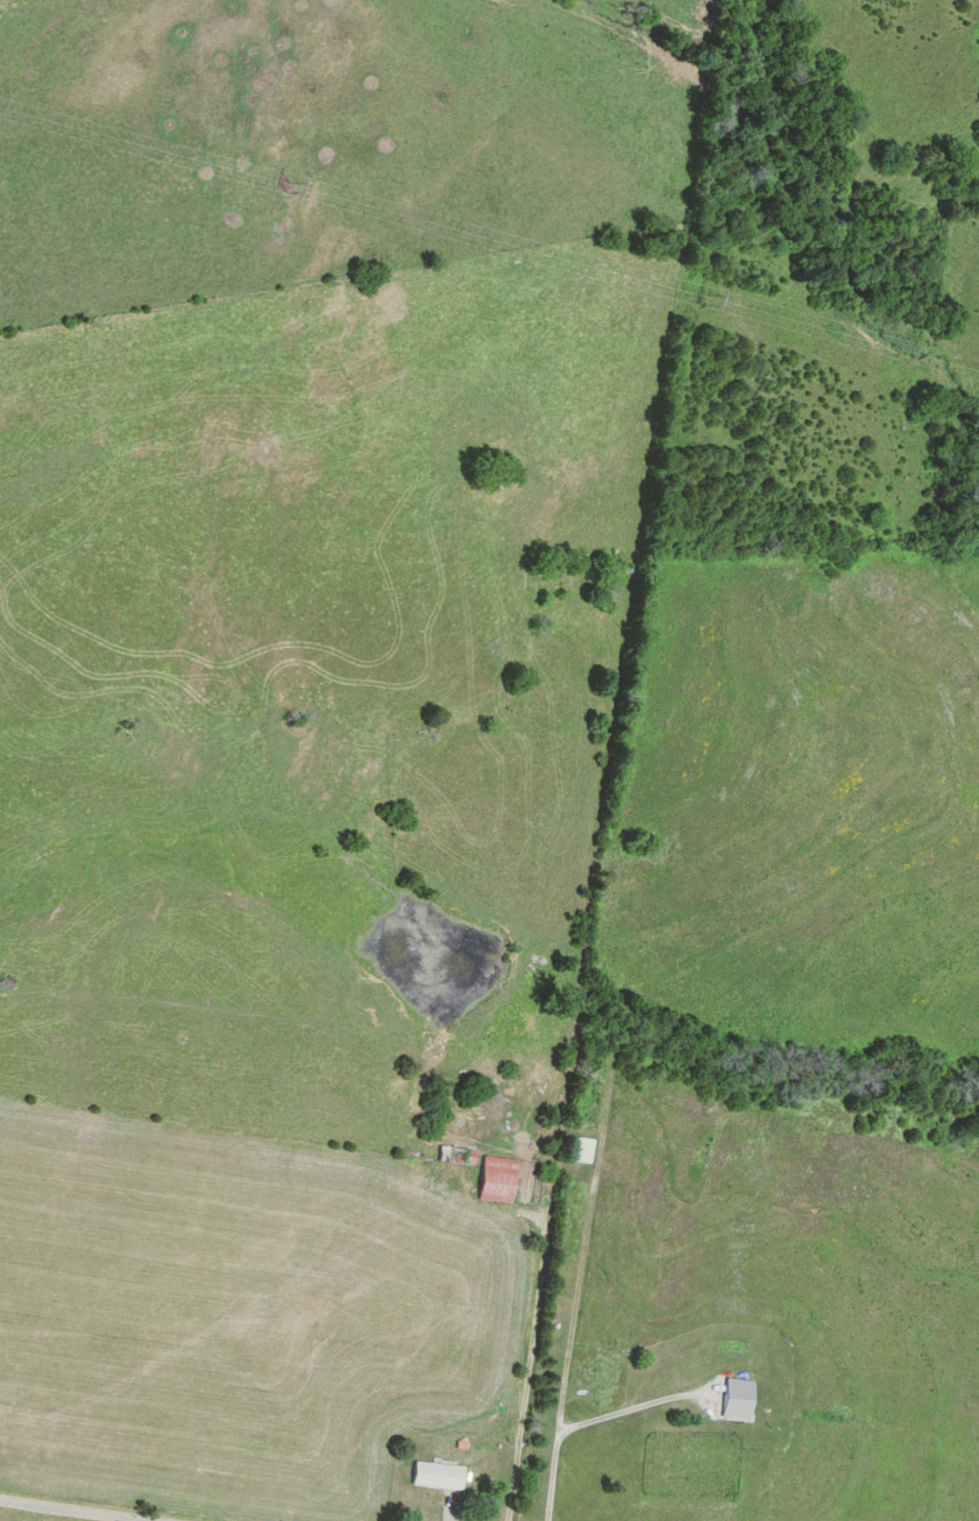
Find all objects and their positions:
building: (581, 1149)
building: (457, 1154)
building: (497, 1178)
building: (738, 1399)
road: (535, 1460)
building: (439, 1475)
road: (64, 1511)

